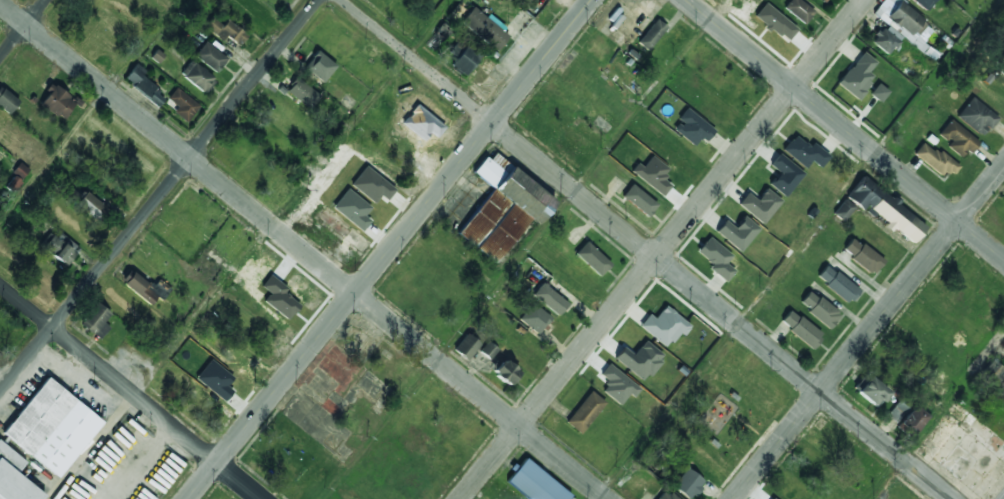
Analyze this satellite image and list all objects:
building: (822, 1)
building: (922, 3)
building: (798, 10)
building: (898, 26)
road: (22, 28)
building: (484, 29)
building: (225, 31)
building: (651, 34)
building: (210, 56)
building: (462, 57)
building: (320, 66)
building: (1001, 69)
building: (857, 75)
building: (197, 76)
building: (143, 85)
building: (878, 92)
building: (303, 93)
building: (7, 100)
building: (57, 102)
building: (182, 104)
road: (89, 111)
building: (976, 116)
building: (692, 127)
road: (845, 129)
building: (957, 138)
building: (28, 150)
building: (804, 152)
building: (934, 159)
building: (784, 175)
road: (159, 196)
building: (639, 200)
building: (760, 204)
building: (92, 206)
building: (502, 206)
building: (886, 209)
building: (843, 210)
building: (737, 233)
building: (60, 248)
road: (646, 248)
road: (252, 249)
road: (389, 249)
road: (662, 249)
road: (799, 249)
road: (302, 251)
building: (862, 256)
building: (592, 259)
building: (716, 259)
building: (837, 284)
building: (139, 288)
building: (160, 289)
building: (550, 299)
building: (819, 309)
building: (534, 318)
building: (96, 321)
building: (664, 326)
building: (801, 329)
road: (868, 331)
building: (466, 347)
building: (488, 350)
building: (639, 360)
building: (504, 371)
building: (992, 375)
building: (617, 385)
building: (872, 391)
road: (130, 393)
building: (897, 411)
building: (585, 412)
road: (936, 415)
building: (912, 420)
building: (52, 427)
building: (14, 477)
building: (535, 483)
building: (688, 484)
building: (666, 495)

